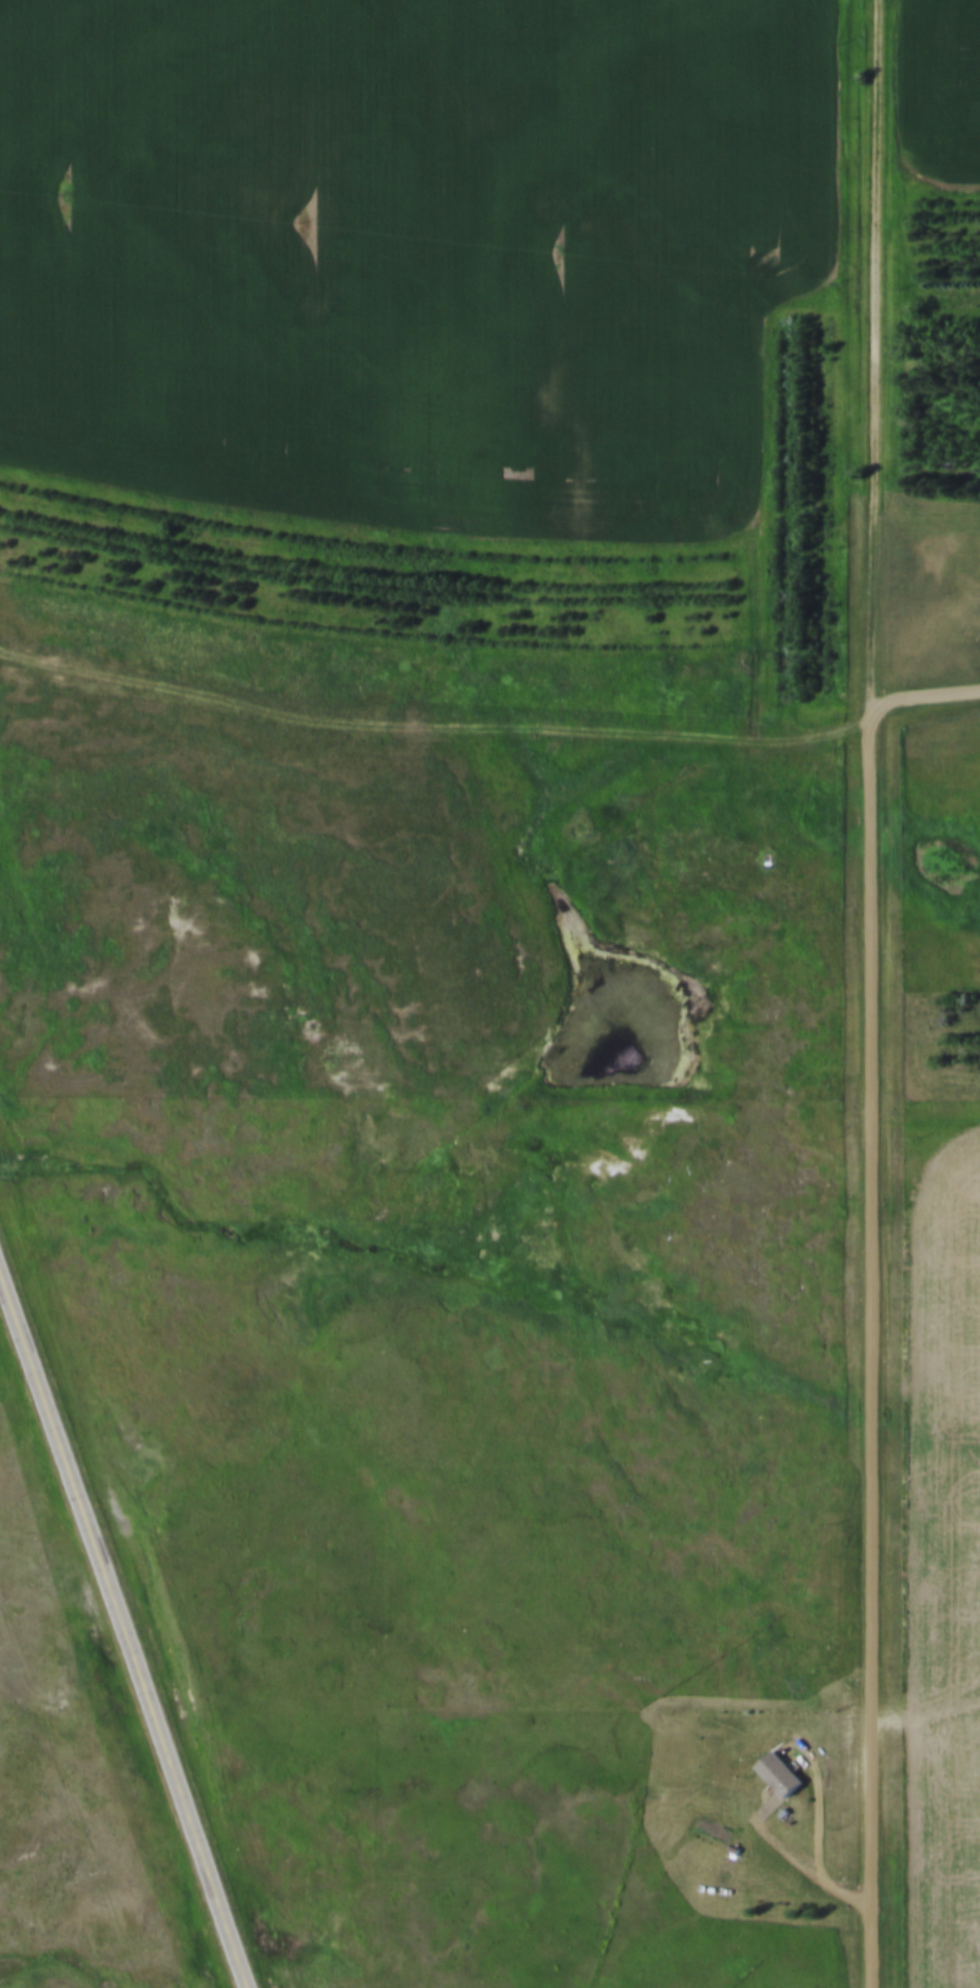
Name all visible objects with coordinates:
road: (879, 355)
road: (927, 701)
road: (442, 718)
road: (874, 1350)
road: (128, 1619)
road: (927, 1712)
building: (780, 1775)
building: (753, 1803)

